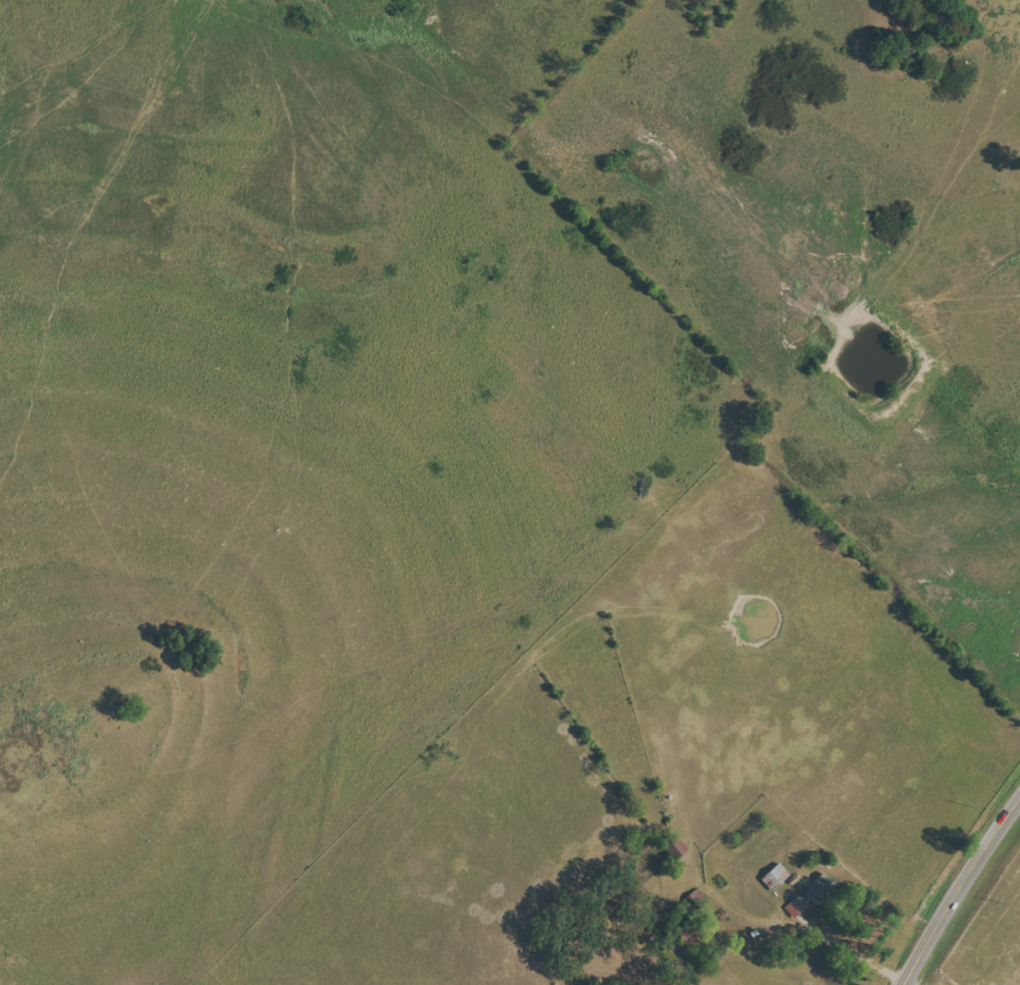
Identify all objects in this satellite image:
building: (675, 848)
building: (776, 877)
road: (964, 894)
building: (810, 896)

